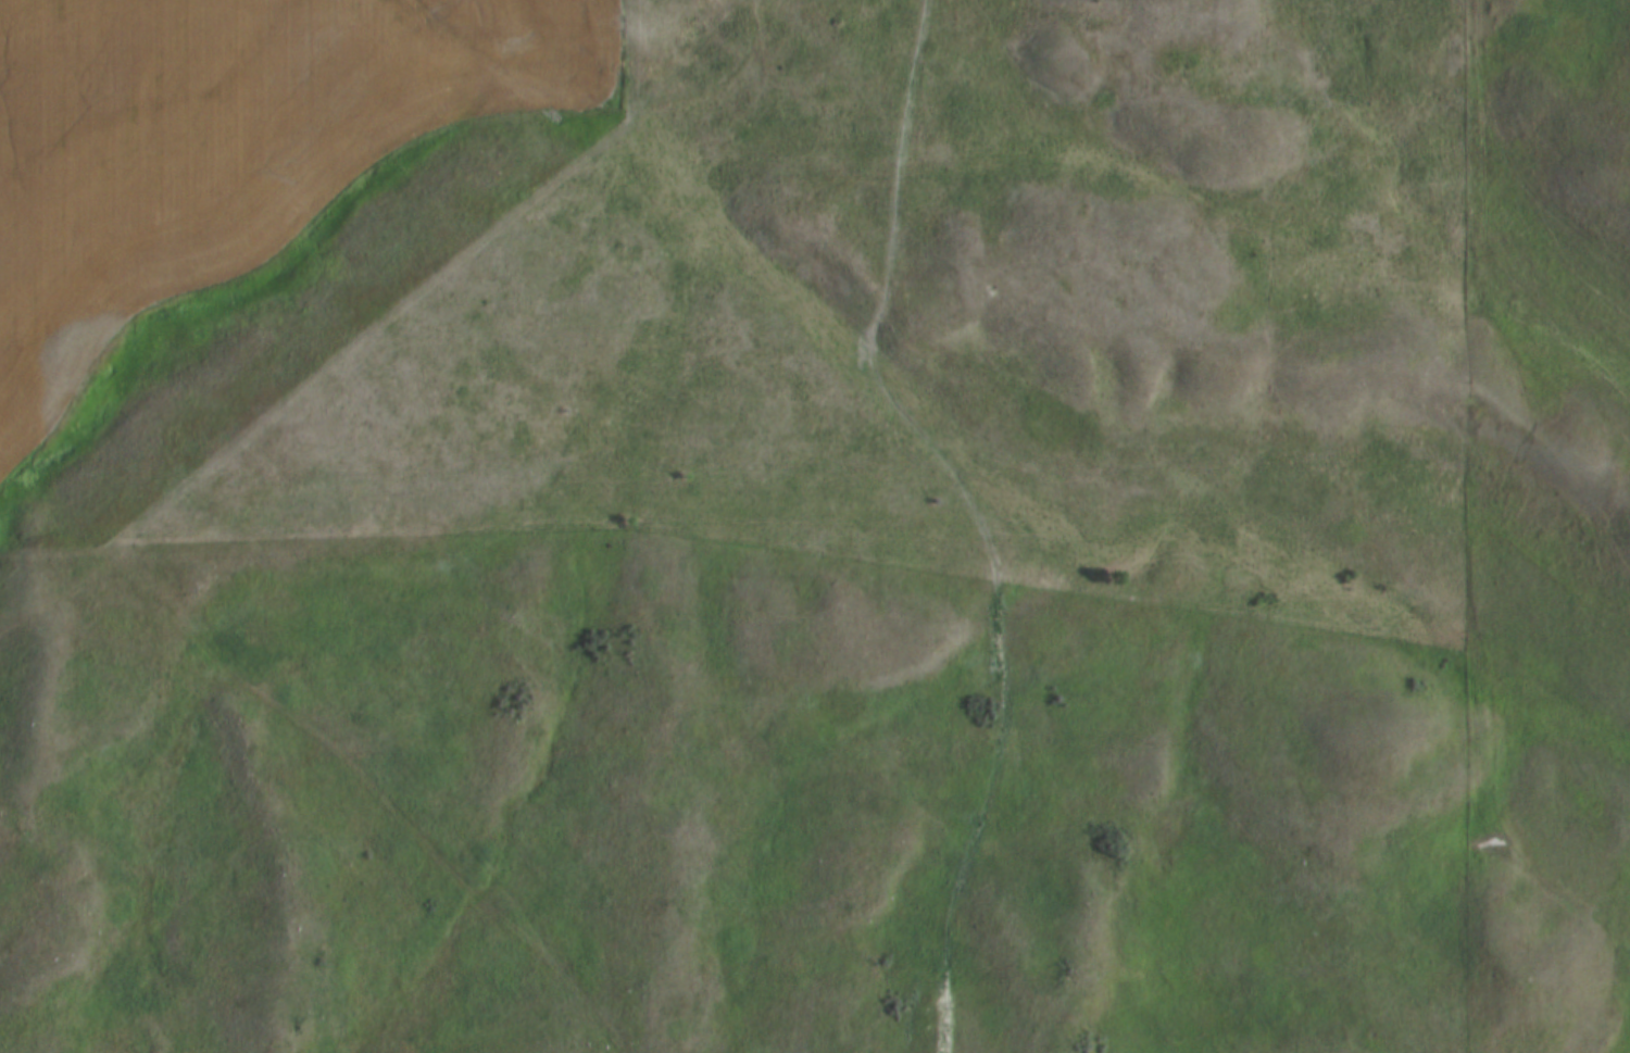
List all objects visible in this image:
road: (1474, 402)

